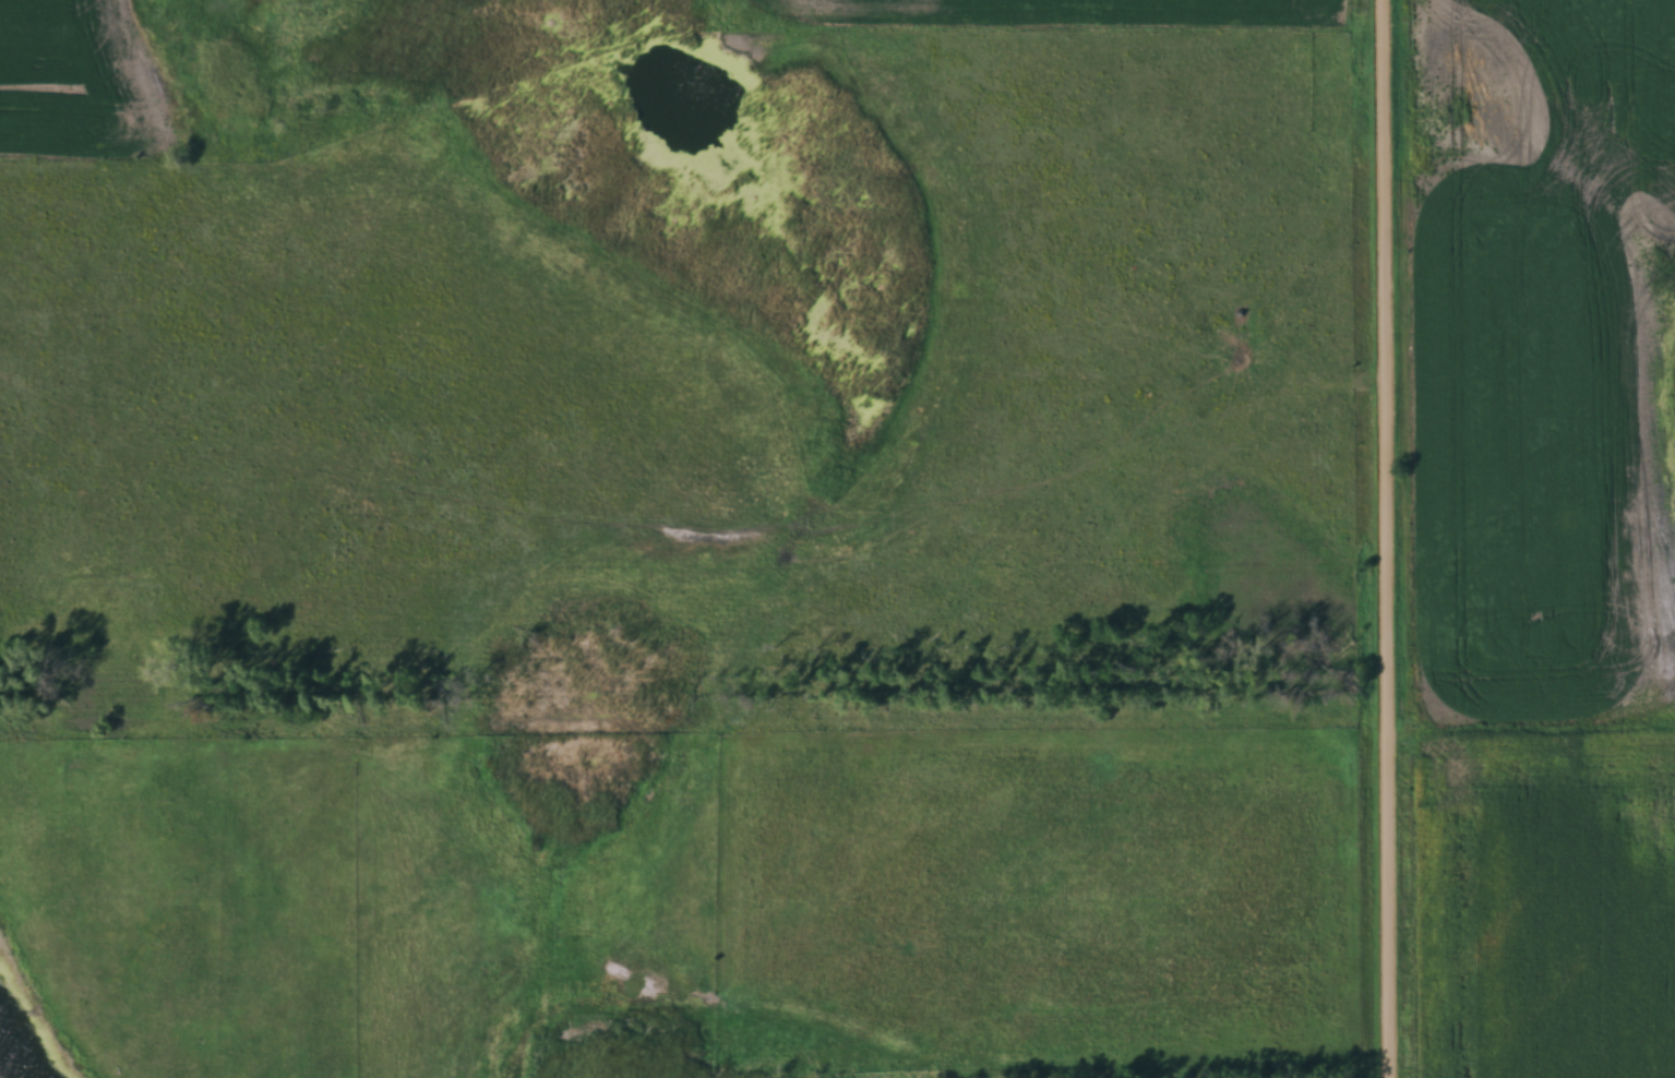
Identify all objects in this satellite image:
road: (1387, 539)

